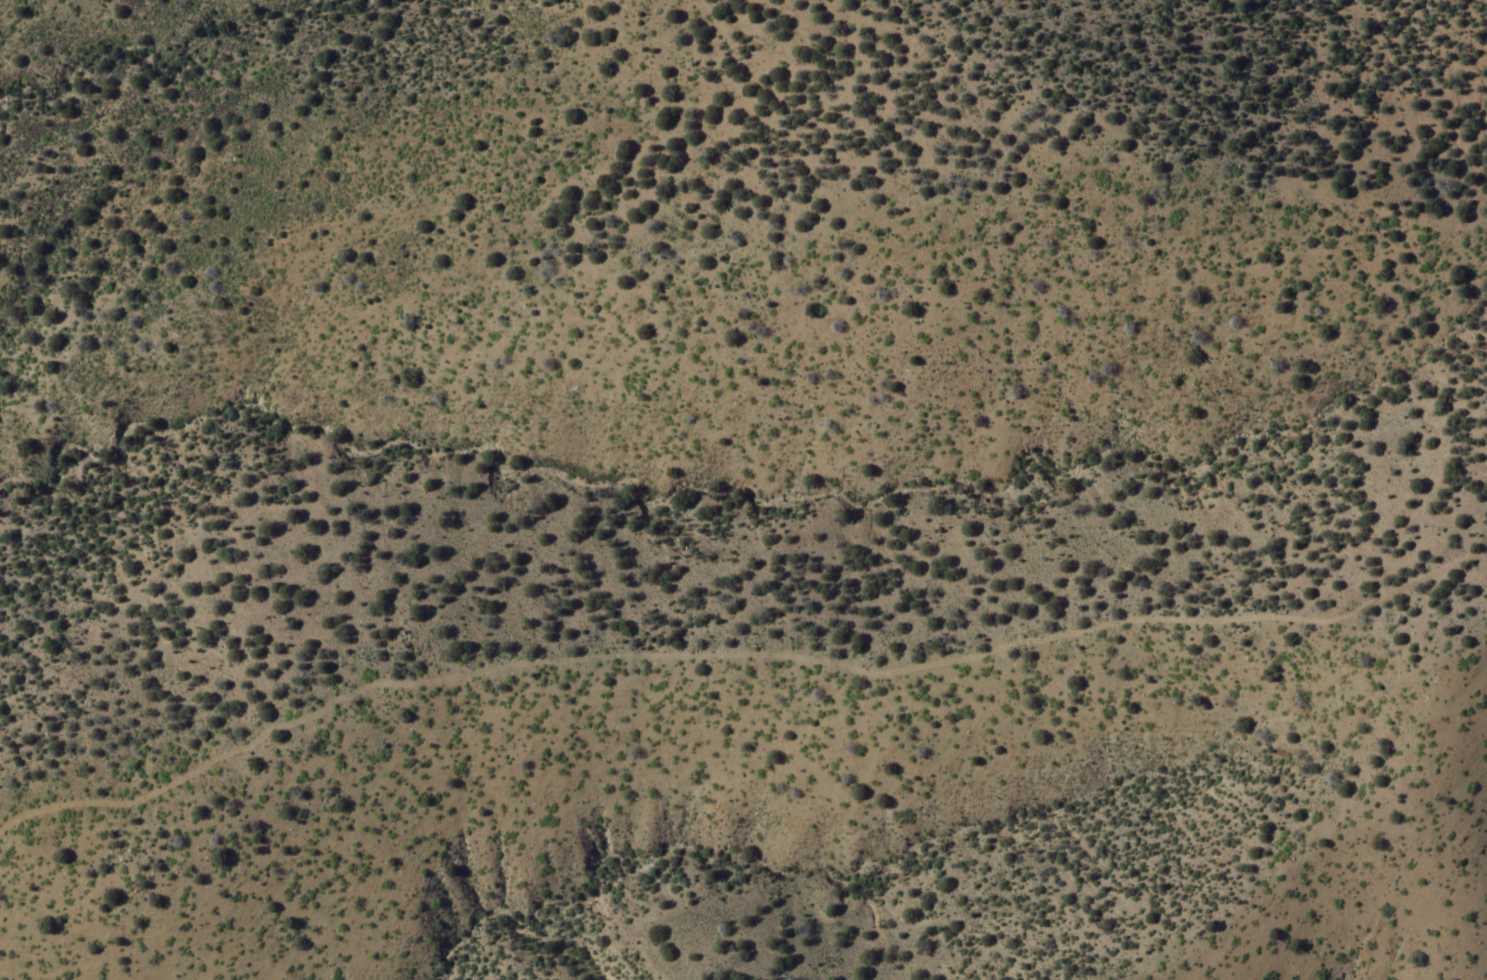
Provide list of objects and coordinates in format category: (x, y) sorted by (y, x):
road: (732, 626)

